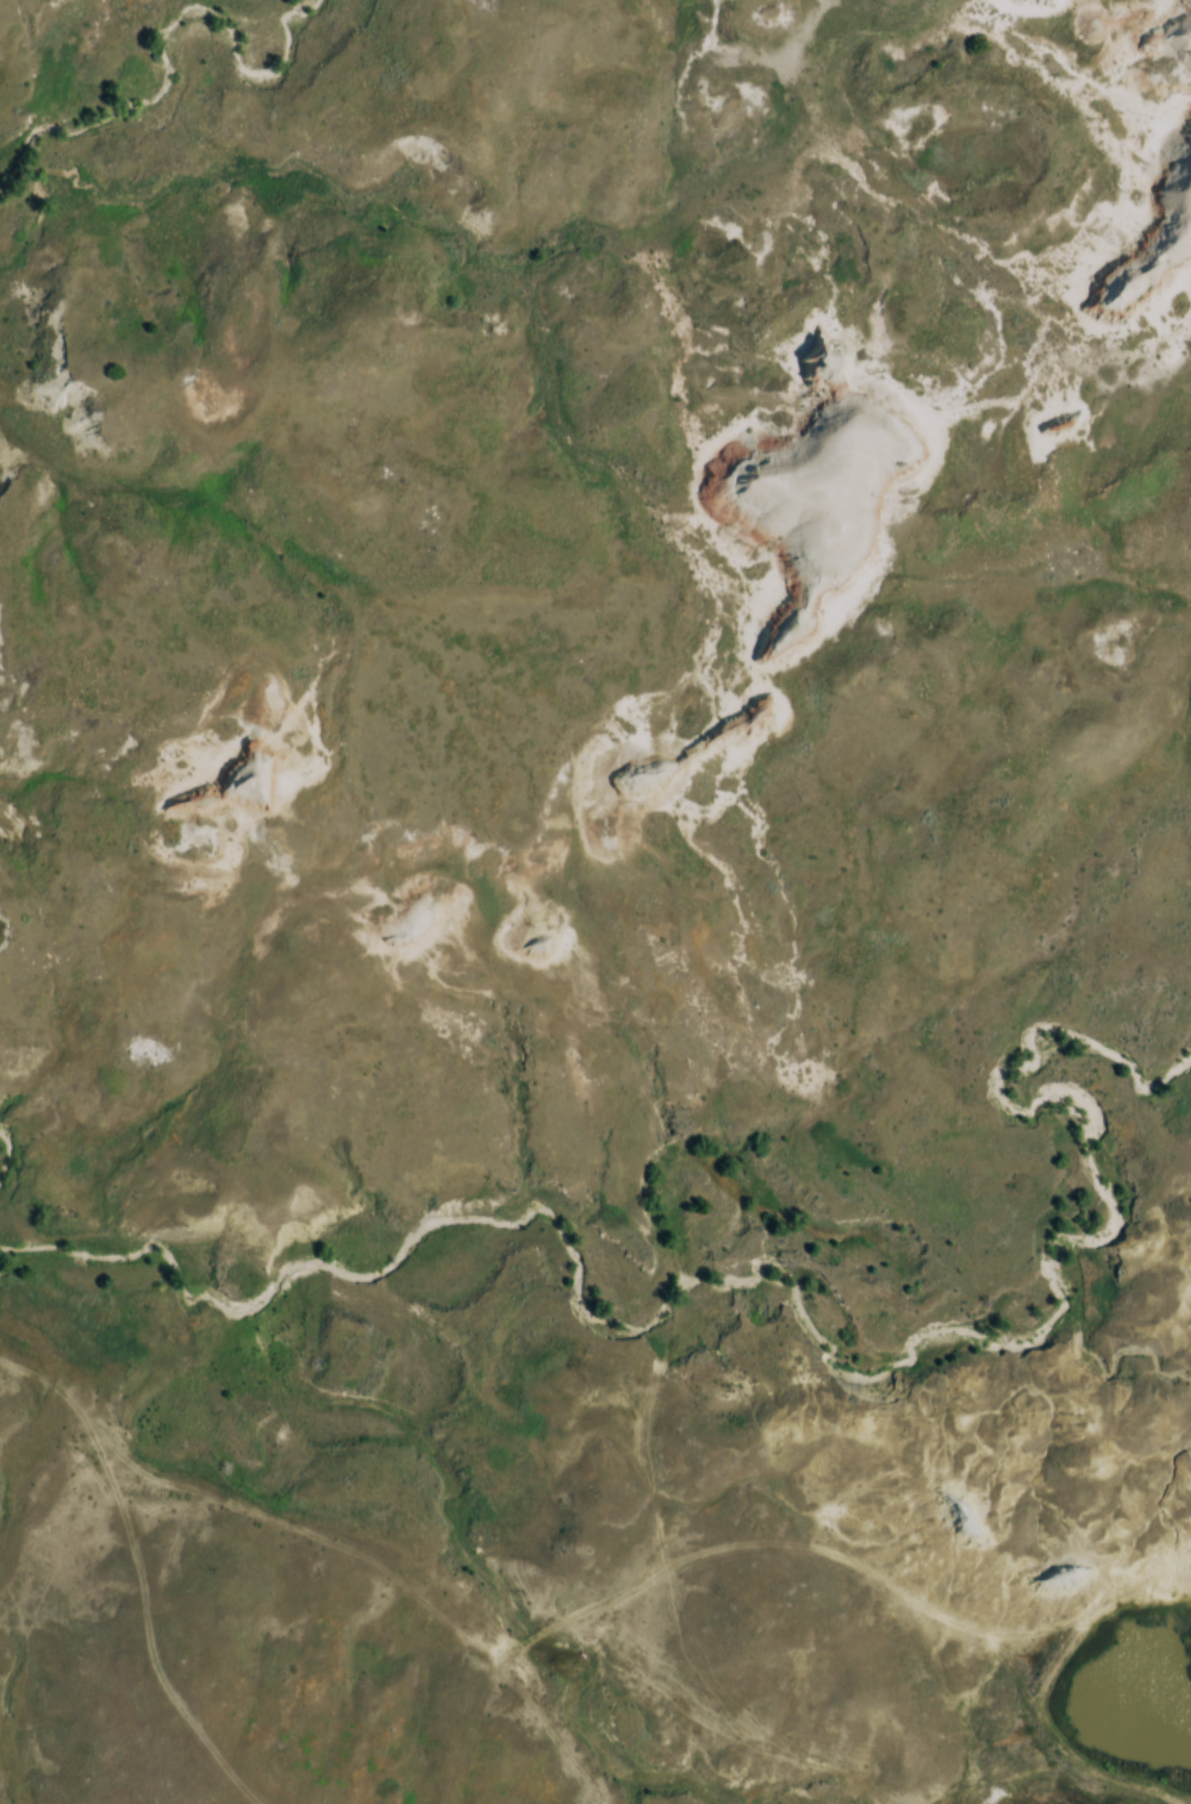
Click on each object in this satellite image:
road: (379, 1558)
road: (139, 1575)
road: (880, 1581)
road: (1090, 1766)

